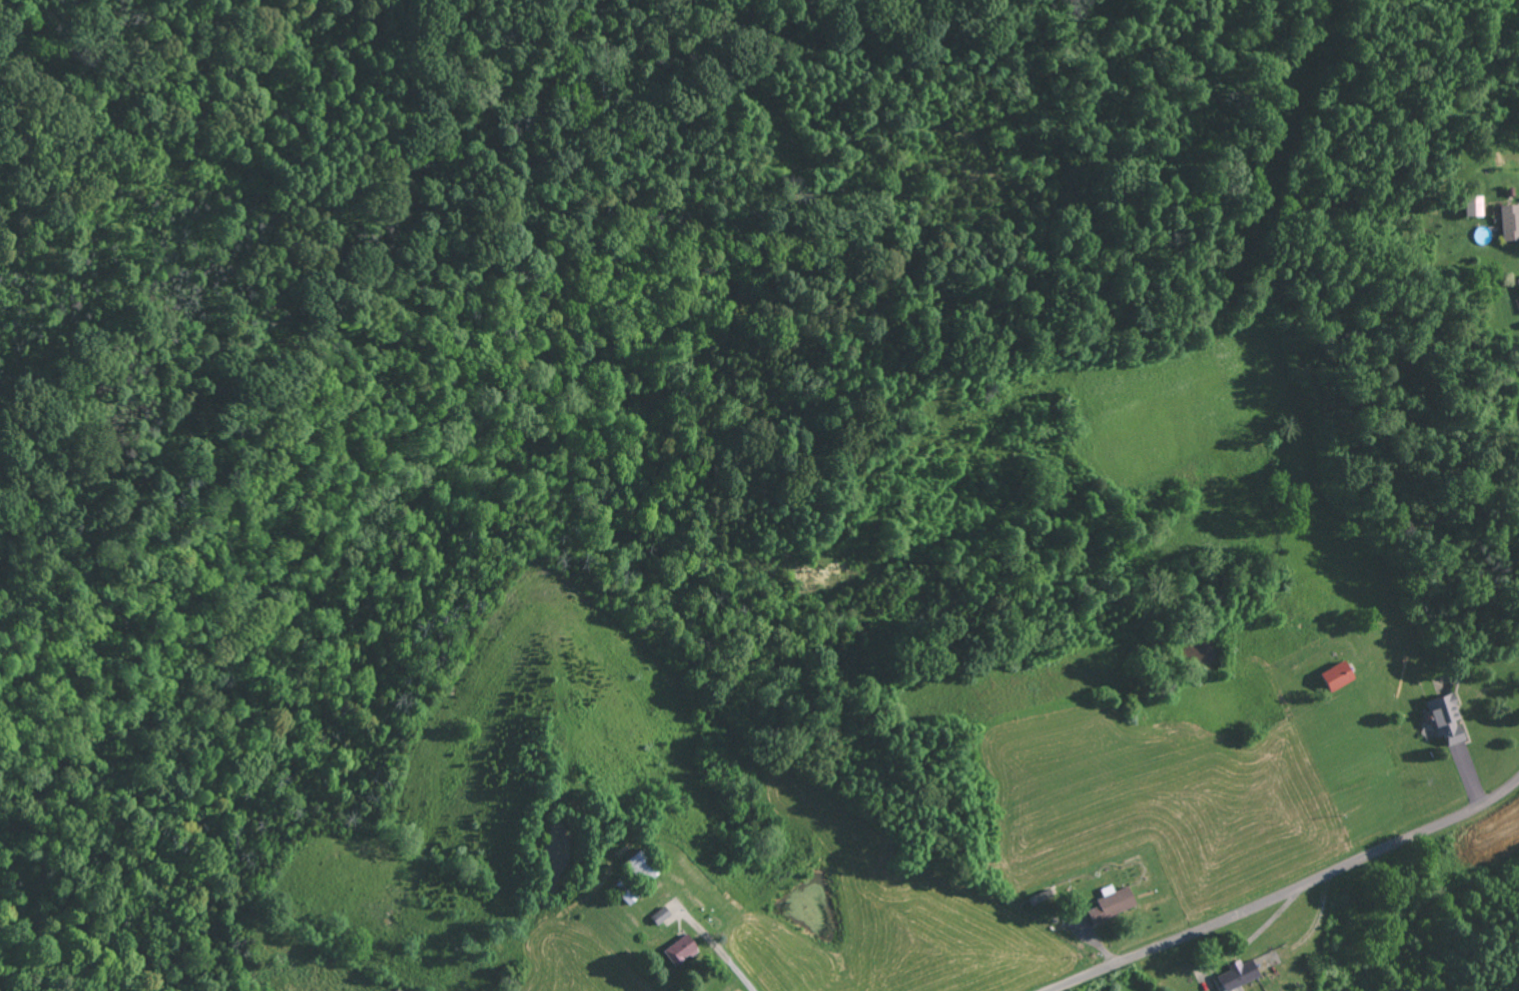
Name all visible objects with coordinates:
road: (852, 82)
building: (1472, 206)
building: (1509, 222)
building: (1517, 283)
building: (1335, 675)
building: (1444, 718)
road: (1291, 891)
building: (625, 897)
building: (1109, 905)
building: (658, 915)
building: (678, 949)
building: (1235, 974)

